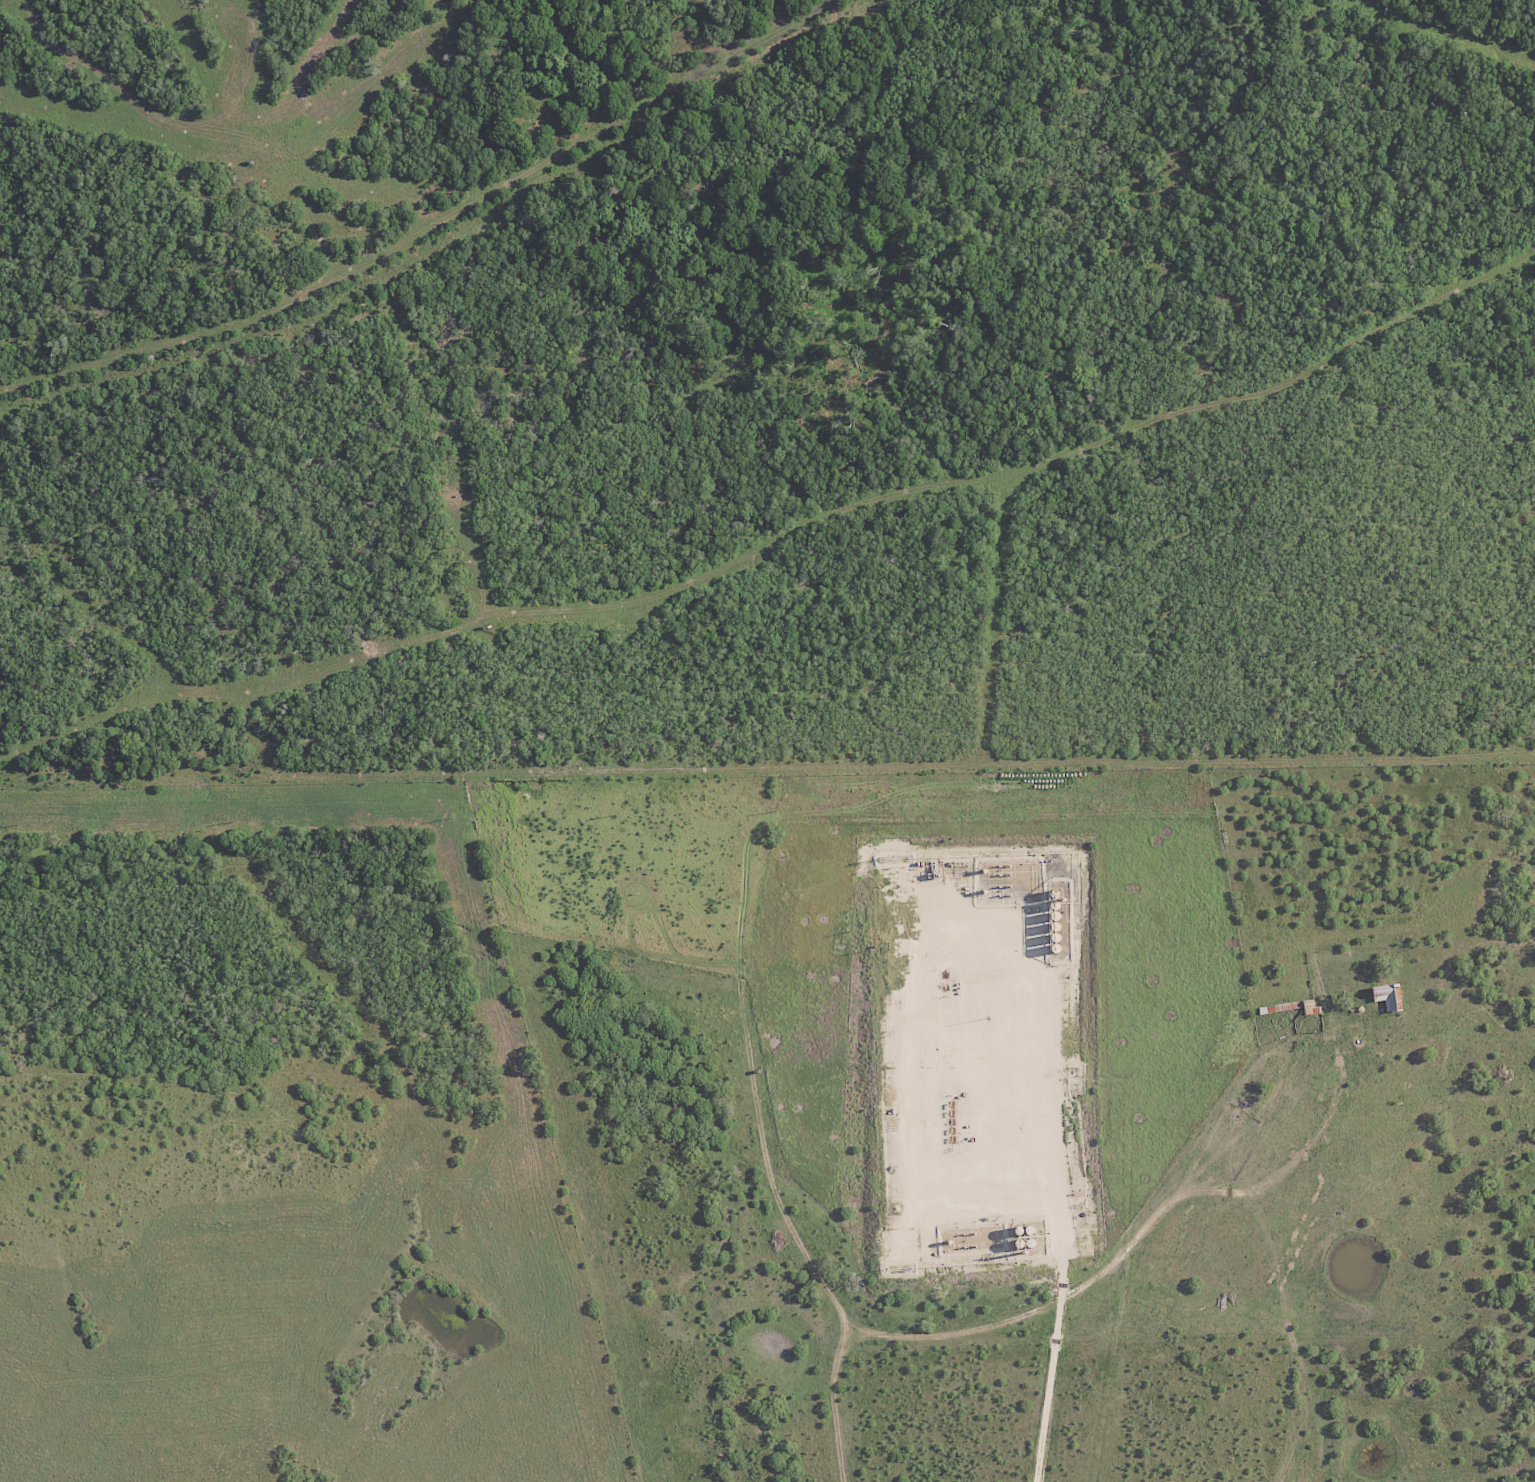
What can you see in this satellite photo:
building: (1387, 997)

